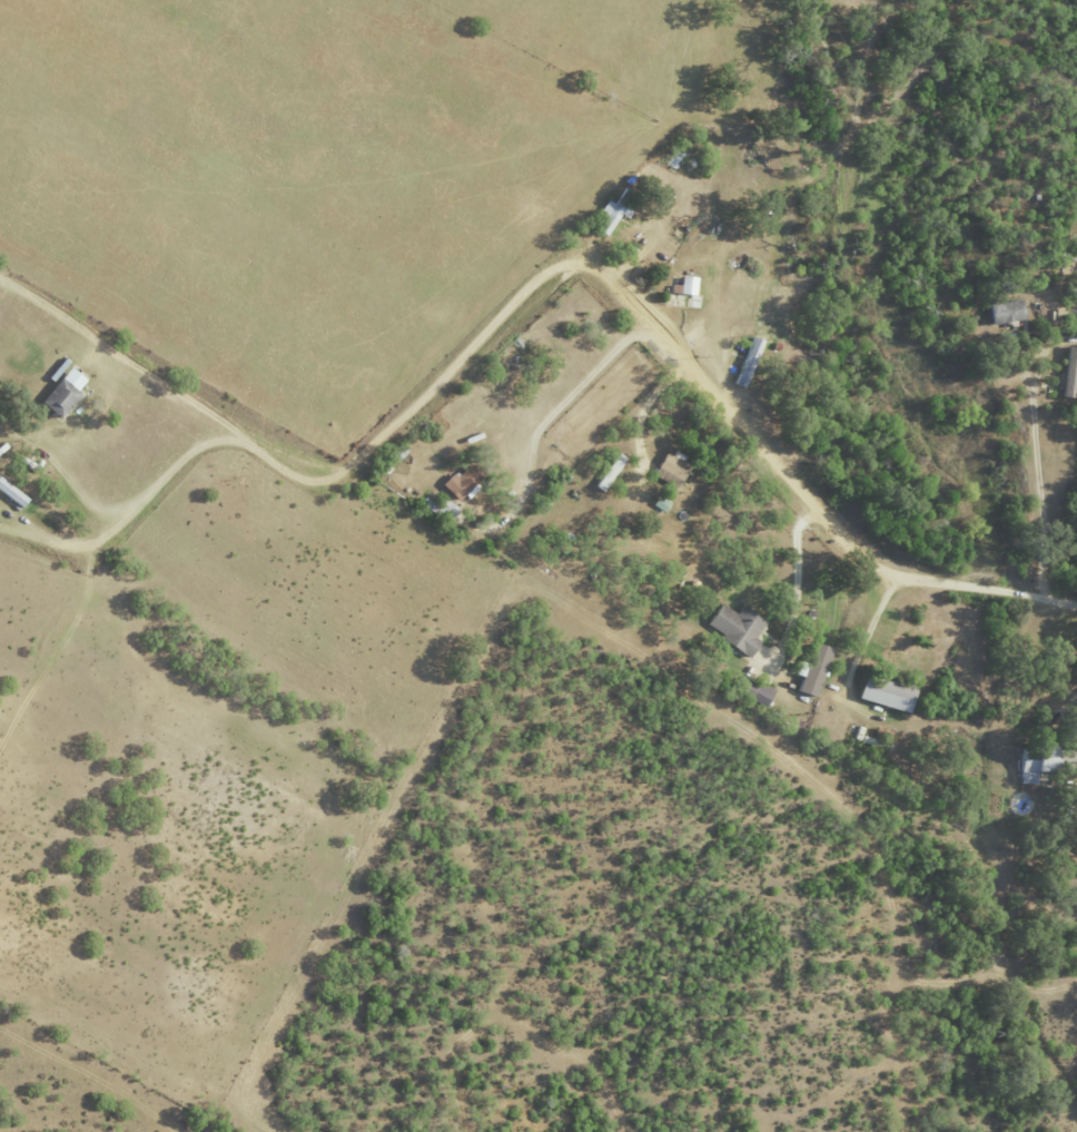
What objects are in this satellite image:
building: (613, 213)
building: (686, 285)
building: (1007, 311)
building: (749, 362)
building: (1069, 372)
road: (696, 376)
building: (62, 393)
road: (179, 398)
road: (646, 407)
road: (549, 422)
road: (1040, 457)
building: (673, 465)
road: (63, 474)
building: (460, 482)
building: (12, 493)
building: (441, 509)
road: (127, 512)
road: (800, 573)
building: (735, 627)
road: (871, 628)
building: (814, 669)
building: (753, 690)
building: (885, 693)
building: (1034, 766)

